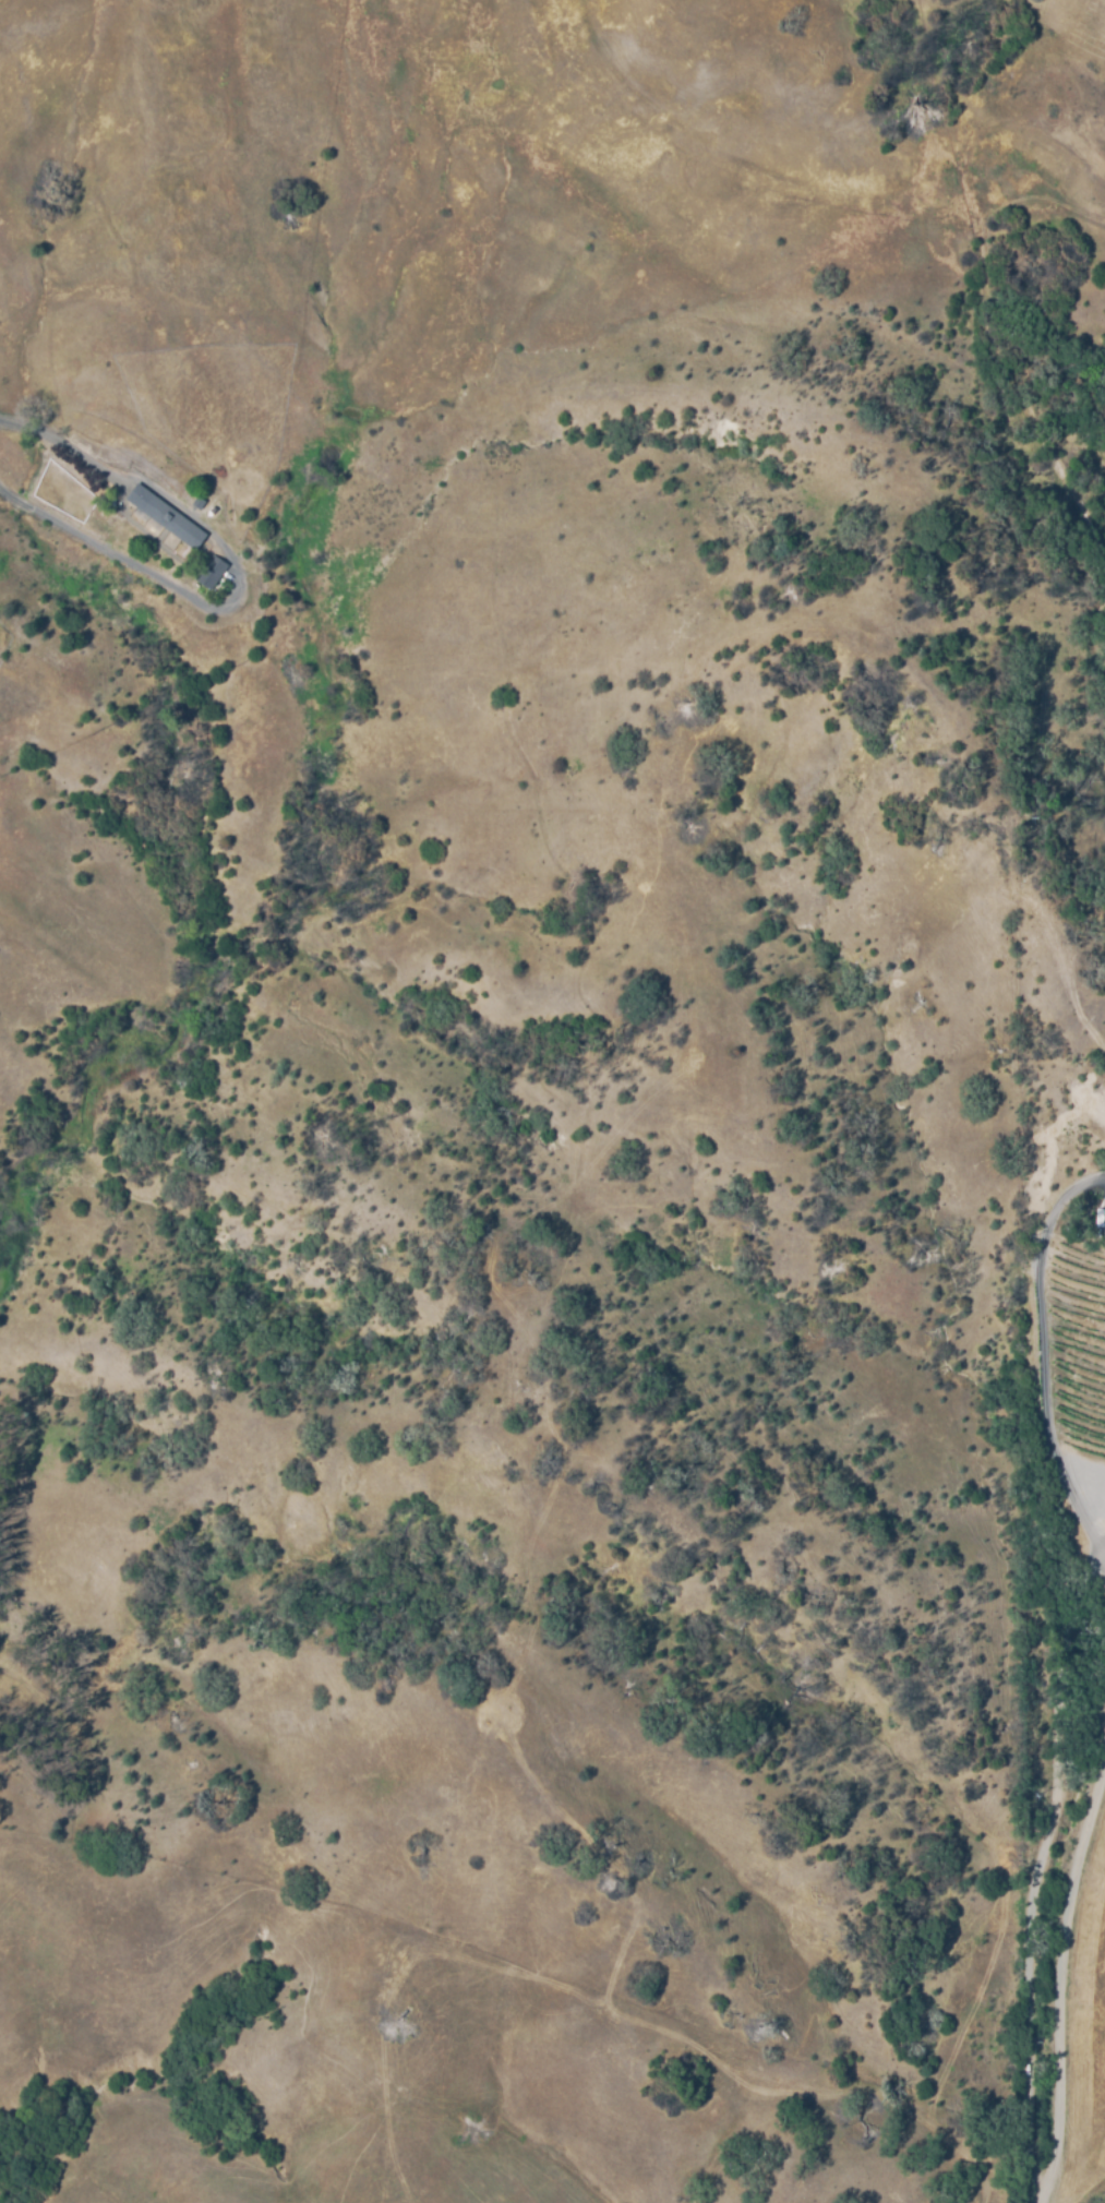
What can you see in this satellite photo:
building: (165, 515)
building: (211, 572)
road: (236, 574)
road: (1047, 1352)
road: (1058, 1957)

